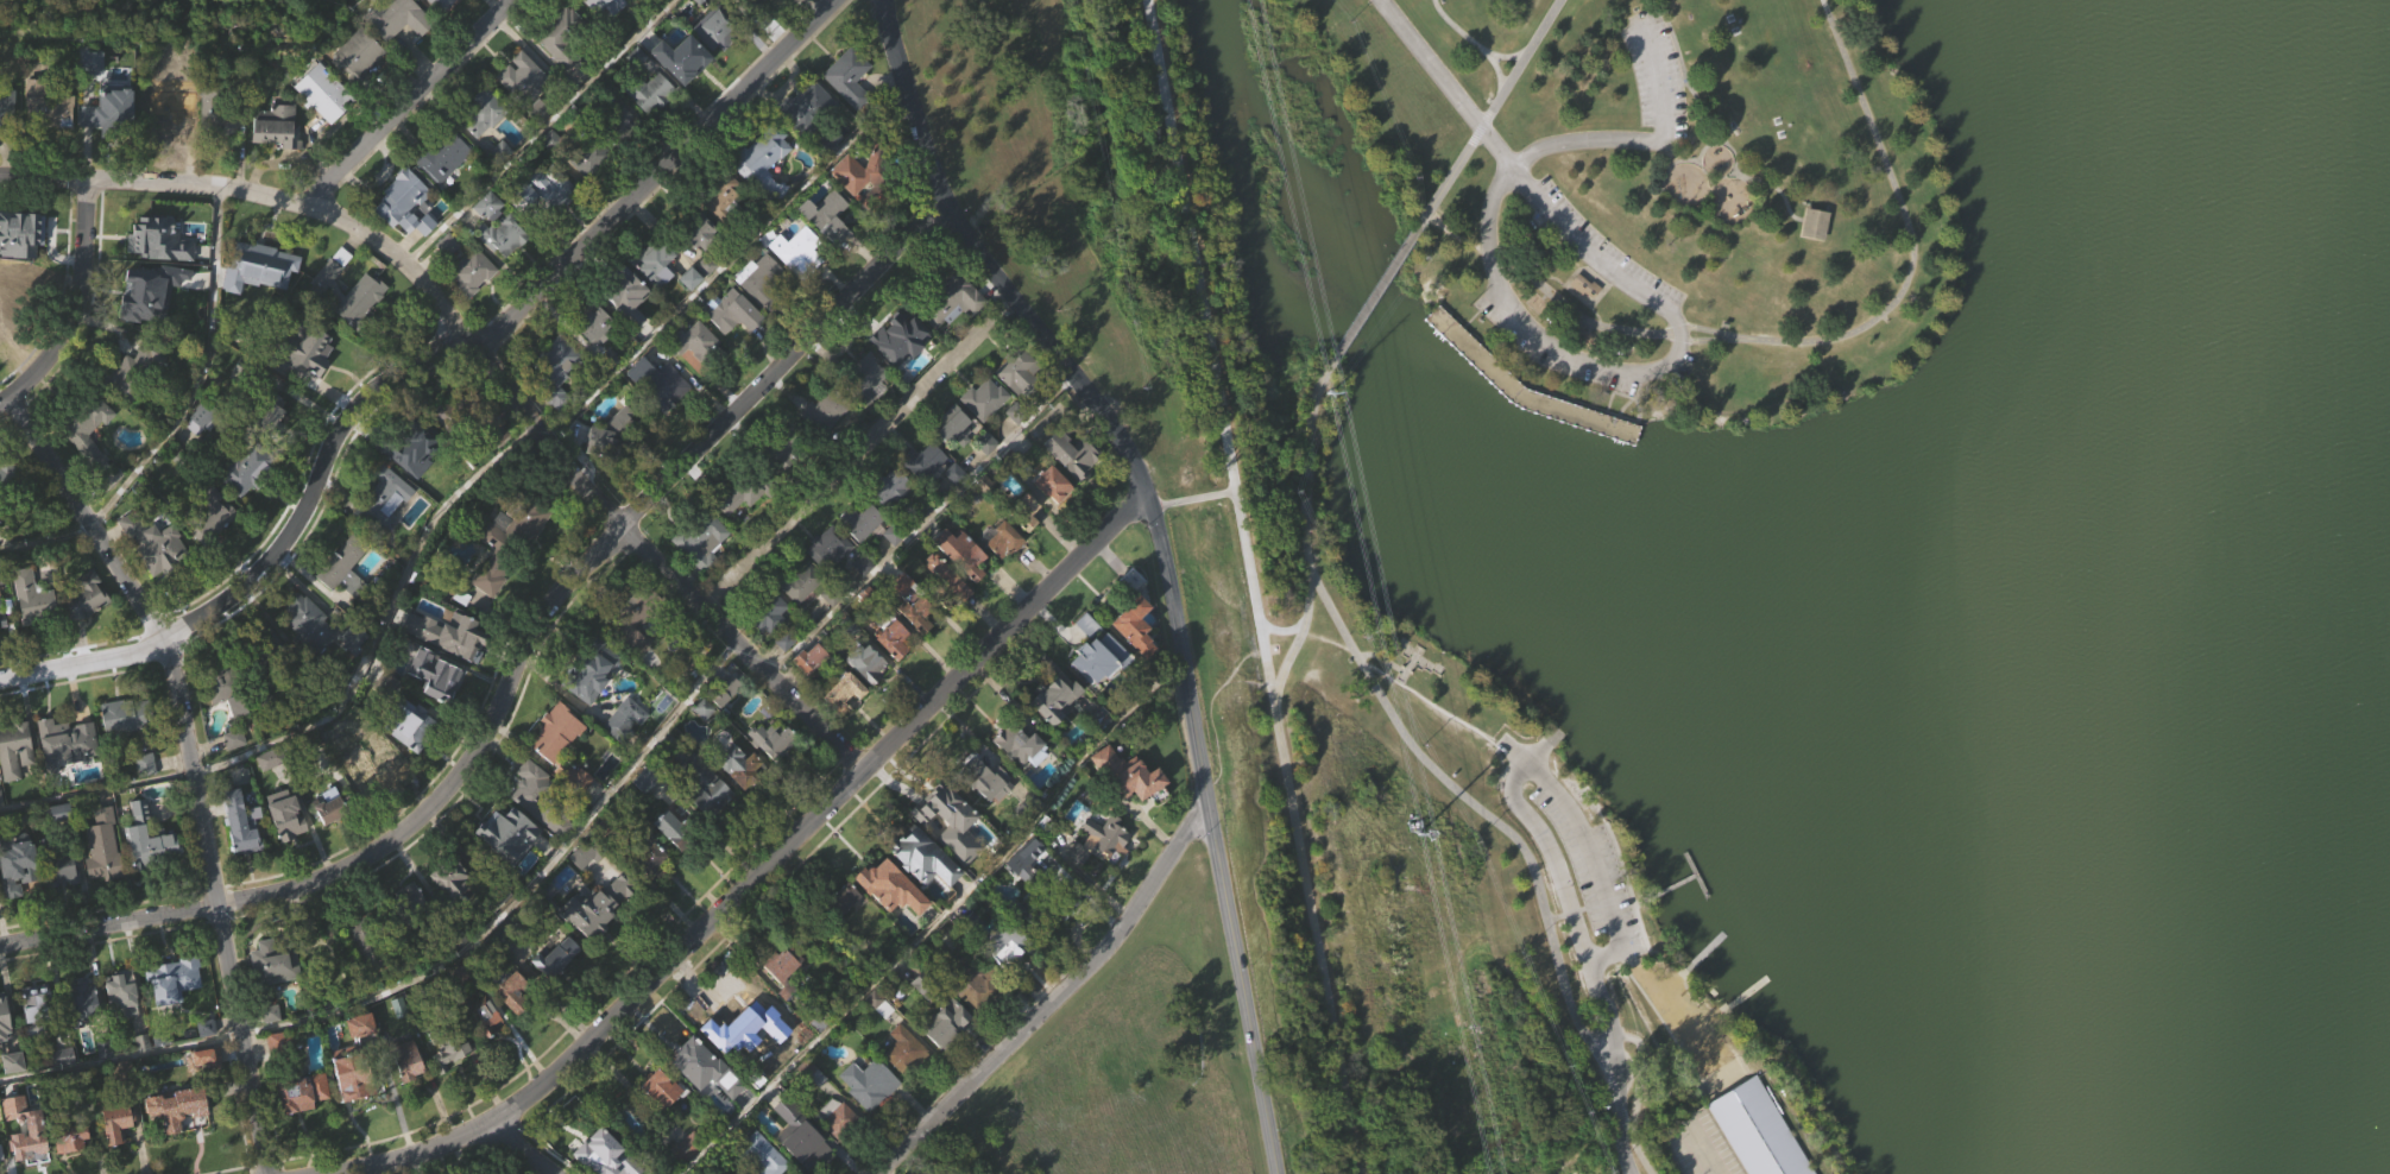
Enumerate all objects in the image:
building: (436, 4)
building: (739, 5)
building: (786, 5)
building: (594, 7)
building: (437, 19)
building: (607, 29)
building: (715, 29)
road: (1457, 31)
building: (379, 32)
building: (557, 34)
building: (398, 49)
road: (1508, 57)
building: (677, 59)
road: (1519, 64)
building: (713, 65)
road: (1427, 65)
building: (561, 70)
building: (846, 75)
road: (1497, 75)
parking lot: (1656, 75)
building: (519, 80)
road: (1686, 84)
building: (358, 89)
building: (647, 91)
building: (319, 93)
building: (682, 93)
building: (103, 100)
road: (405, 103)
building: (45, 106)
building: (6, 107)
building: (174, 107)
building: (215, 111)
building: (484, 111)
building: (523, 112)
building: (847, 113)
building: (811, 118)
building: (272, 126)
building: (324, 127)
building: (652, 127)
road: (534, 132)
building: (7, 140)
building: (48, 140)
road: (1648, 140)
building: (111, 144)
building: (483, 146)
building: (217, 149)
building: (812, 151)
building: (587, 152)
road: (1733, 152)
building: (440, 156)
building: (620, 158)
building: (277, 160)
building: (762, 160)
building: (864, 173)
road: (1450, 177)
road: (153, 182)
building: (551, 187)
building: (446, 190)
building: (588, 191)
building: (762, 195)
building: (518, 196)
building: (402, 203)
building: (483, 207)
building: (857, 208)
building: (826, 215)
building: (12, 223)
building: (1816, 223)
building: (544, 225)
building: (162, 227)
road: (1910, 227)
building: (695, 228)
building: (723, 229)
building: (502, 234)
road: (1453, 235)
building: (404, 239)
road: (1575, 242)
parking lot: (1603, 248)
building: (796, 250)
building: (827, 250)
building: (250, 253)
building: (1817, 258)
building: (652, 263)
road: (727, 265)
building: (704, 267)
building: (504, 270)
building: (469, 271)
building: (447, 278)
building: (764, 282)
building: (793, 283)
building: (12, 286)
building: (1583, 286)
building: (159, 288)
building: (368, 288)
building: (618, 289)
road: (1375, 291)
building: (654, 297)
building: (707, 298)
building: (946, 298)
building: (261, 302)
road: (81, 305)
building: (472, 305)
road: (1572, 310)
building: (690, 313)
building: (730, 314)
building: (1585, 321)
building: (592, 322)
building: (151, 327)
building: (351, 327)
road: (1527, 328)
building: (628, 330)
road: (1709, 330)
building: (950, 335)
building: (2, 336)
building: (900, 339)
road: (1711, 340)
parking lot: (1524, 343)
building: (696, 345)
building: (734, 347)
building: (296, 349)
building: (1473, 353)
building: (593, 358)
road: (417, 362)
building: (554, 370)
building: (131, 372)
building: (242, 372)
building: (901, 372)
building: (1017, 372)
building: (694, 374)
building: (859, 377)
building: (657, 378)
building: (304, 386)
building: (611, 392)
power tower: (1323, 393)
building: (983, 399)
building: (554, 403)
building: (134, 404)
building: (1020, 405)
building: (824, 410)
building: (866, 411)
road: (179, 416)
building: (265, 416)
building: (459, 416)
building: (660, 416)
building: (952, 429)
building: (86, 431)
building: (984, 434)
building: (606, 435)
building: (271, 444)
building: (417, 444)
building: (824, 446)
building: (787, 449)
building: (1070, 453)
road: (863, 456)
building: (953, 460)
building: (920, 461)
road: (1308, 463)
building: (611, 466)
building: (89, 467)
building: (242, 467)
building: (985, 476)
building: (5, 479)
road: (586, 482)
building: (1049, 485)
building: (887, 486)
building: (776, 487)
building: (1073, 488)
building: (738, 494)
building: (923, 494)
building: (381, 500)
building: (247, 503)
building: (6, 506)
building: (954, 507)
building: (1021, 512)
building: (206, 517)
building: (1052, 518)
building: (523, 520)
building: (858, 522)
building: (891, 522)
road: (920, 522)
building: (437, 523)
building: (740, 530)
building: (383, 536)
building: (998, 539)
building: (698, 541)
building: (152, 544)
building: (215, 545)
building: (1024, 545)
building: (827, 547)
building: (499, 553)
building: (958, 553)
road: (1166, 553)
building: (862, 555)
road: (1200, 563)
building: (516, 564)
building: (341, 567)
building: (891, 569)
building: (488, 573)
building: (701, 574)
building: (1003, 574)
park: (1727, 575)
building: (156, 579)
building: (828, 580)
building: (797, 582)
road: (1251, 587)
building: (950, 592)
building: (84, 597)
building: (31, 598)
building: (0, 602)
building: (345, 602)
building: (767, 612)
building: (488, 613)
building: (915, 614)
building: (951, 616)
building: (797, 618)
building: (635, 619)
building: (2, 620)
building: (316, 626)
building: (458, 627)
building: (1131, 629)
building: (87, 631)
building: (831, 631)
building: (34, 635)
building: (910, 637)
road: (1301, 637)
building: (889, 639)
building: (769, 646)
building: (2, 650)
building: (259, 651)
building: (1095, 654)
building: (310, 657)
building: (806, 658)
road: (1382, 658)
building: (1134, 659)
road: (516, 662)
building: (635, 665)
building: (863, 665)
building: (589, 669)
building: (784, 673)
building: (895, 673)
building: (430, 674)
building: (222, 686)
building: (1098, 687)
building: (809, 692)
building: (840, 694)
building: (868, 696)
building: (1049, 698)
building: (591, 705)
building: (715, 705)
road: (1209, 706)
road: (1431, 707)
building: (435, 708)
road: (338, 713)
building: (124, 714)
building: (386, 717)
building: (623, 719)
building: (227, 722)
building: (844, 724)
building: (726, 725)
building: (411, 727)
building: (1054, 732)
building: (555, 733)
building: (771, 739)
building: (704, 743)
building: (1022, 746)
building: (13, 749)
building: (124, 750)
building: (626, 750)
building: (59, 752)
building: (412, 758)
road: (193, 763)
building: (556, 766)
building: (732, 766)
building: (235, 772)
building: (1123, 772)
building: (572, 775)
building: (68, 776)
building: (778, 776)
building: (365, 777)
building: (1020, 778)
building: (980, 779)
building: (15, 783)
building: (700, 788)
building: (270, 793)
building: (146, 797)
building: (540, 797)
building: (734, 797)
building: (326, 808)
building: (1127, 808)
building: (986, 814)
building: (279, 816)
building: (651, 818)
building: (531, 819)
building: (705, 819)
building: (940, 820)
building: (233, 821)
building: (497, 823)
power tower: (1418, 825)
building: (131, 828)
building: (1, 832)
building: (333, 839)
building: (1101, 844)
building: (61, 845)
building: (101, 845)
road: (1590, 846)
building: (285, 847)
road: (1520, 848)
building: (588, 853)
building: (950, 856)
building: (241, 857)
building: (919, 857)
building: (648, 858)
building: (670, 860)
building: (1011, 861)
building: (13, 863)
building: (506, 866)
road: (764, 869)
building: (57, 870)
road: (1559, 872)
parking lot: (1596, 872)
building: (151, 873)
building: (1101, 873)
pier: (1696, 876)
building: (447, 877)
building: (103, 880)
building: (586, 885)
pier: (1673, 886)
building: (922, 890)
building: (652, 892)
building: (17, 897)
building: (1020, 898)
building: (835, 900)
building: (595, 902)
road: (1604, 902)
building: (405, 904)
building: (62, 905)
building: (452, 911)
building: (1045, 911)
road: (935, 920)
building: (890, 921)
building: (410, 929)
building: (843, 933)
building: (507, 934)
building: (364, 938)
building: (595, 941)
building: (1002, 943)
pier: (1709, 946)
building: (976, 957)
building: (550, 958)
building: (269, 960)
road: (434, 967)
building: (780, 968)
building: (1004, 977)
building: (170, 980)
building: (976, 987)
building: (116, 991)
building: (427, 991)
building: (555, 991)
building: (509, 992)
pier: (1745, 993)
building: (784, 995)
building: (275, 996)
road: (1059, 997)
building: (77, 999)
building: (31, 1003)
building: (937, 1010)
building: (174, 1012)
building: (479, 1015)
building: (1, 1017)
building: (122, 1022)
building: (516, 1023)
building: (83, 1029)
building: (720, 1029)
building: (0, 1033)
building: (36, 1035)
building: (879, 1036)
road: (1638, 1039)
building: (399, 1040)
building: (446, 1043)
building: (131, 1044)
building: (279, 1044)
building: (490, 1049)
building: (903, 1053)
building: (946, 1056)
building: (200, 1058)
building: (403, 1059)
building: (726, 1065)
building: (700, 1067)
building: (758, 1073)
building: (121, 1074)
building: (279, 1074)
building: (349, 1079)
building: (865, 1083)
building: (454, 1084)
building: (906, 1084)
building: (656, 1088)
building: (206, 1091)
road: (1638, 1091)
building: (297, 1092)
building: (408, 1092)
building: (13, 1094)
building: (695, 1096)
building: (770, 1096)
road: (1625, 1103)
building: (170, 1106)
building: (358, 1116)
building: (869, 1116)
building: (729, 1117)
building: (838, 1119)
building: (111, 1122)
building: (661, 1122)
building: (303, 1125)
building: (25, 1129)
building: (1754, 1131)
building: (65, 1136)
building: (178, 1140)
parking lot: (1701, 1145)
road: (518, 1148)
building: (807, 1149)
building: (838, 1150)
building: (25, 1151)
road: (1703, 1151)
building: (597, 1153)
building: (680, 1153)
building: (118, 1154)
building: (758, 1155)
building: (795, 1157)
building: (72, 1166)

